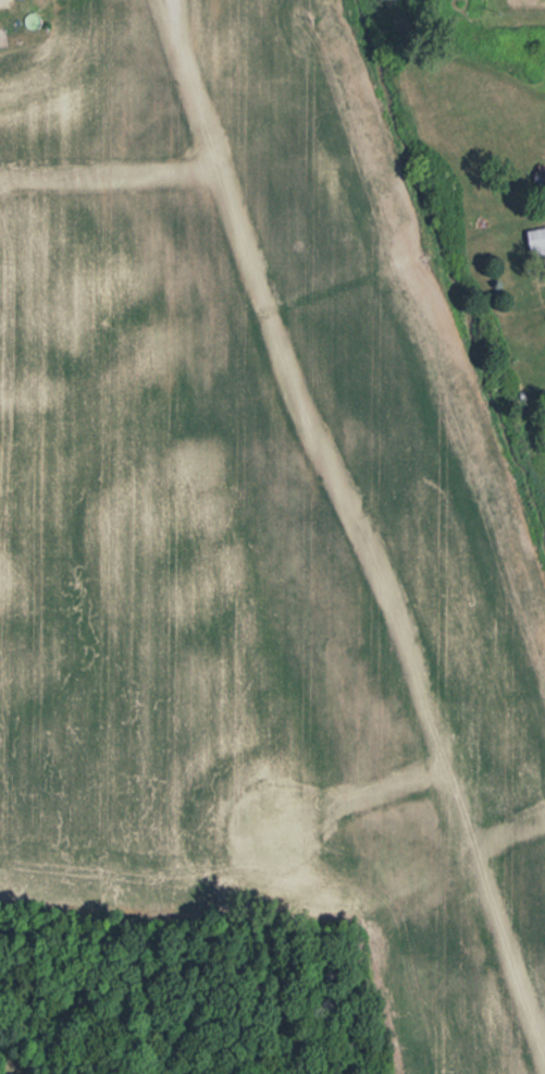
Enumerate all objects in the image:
road: (209, 159)
building: (536, 240)

